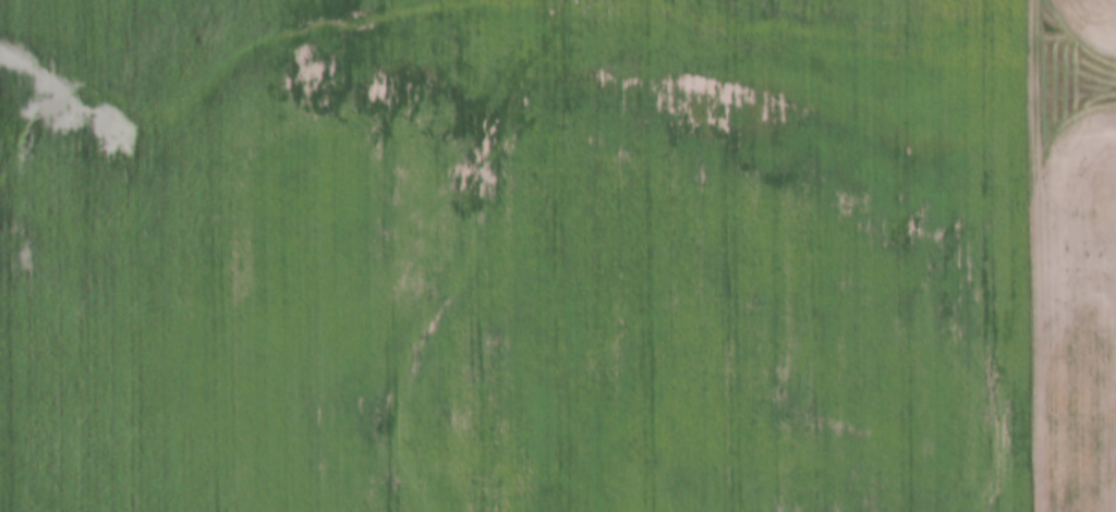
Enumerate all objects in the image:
road: (1036, 256)

